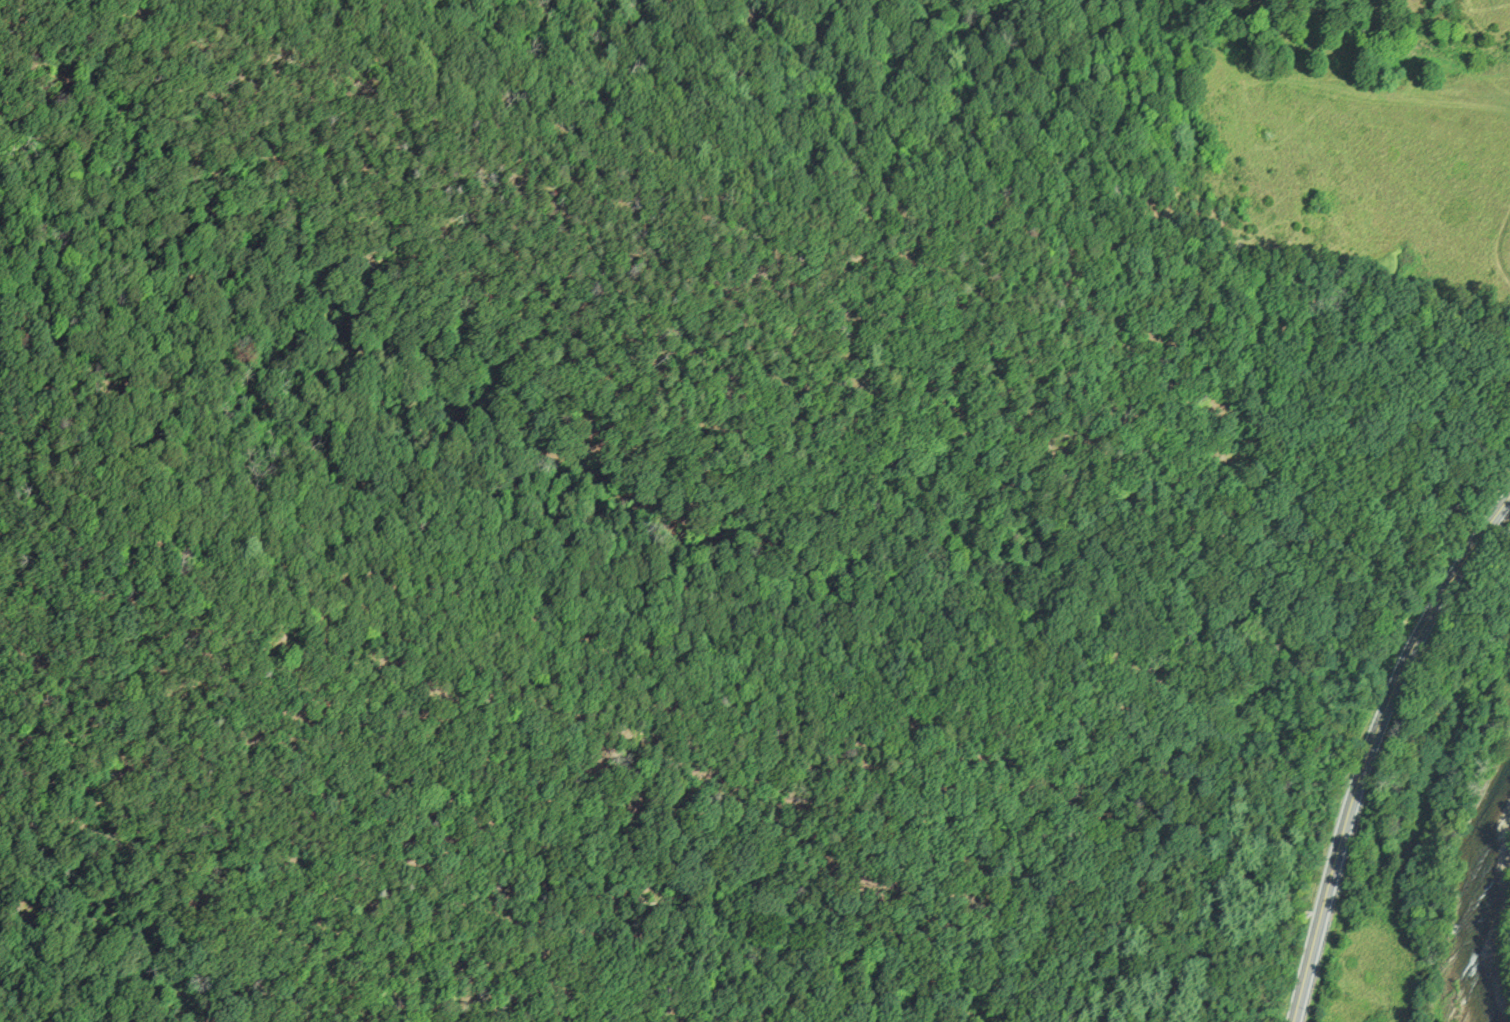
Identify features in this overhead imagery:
road: (1371, 746)
river: (1489, 873)

